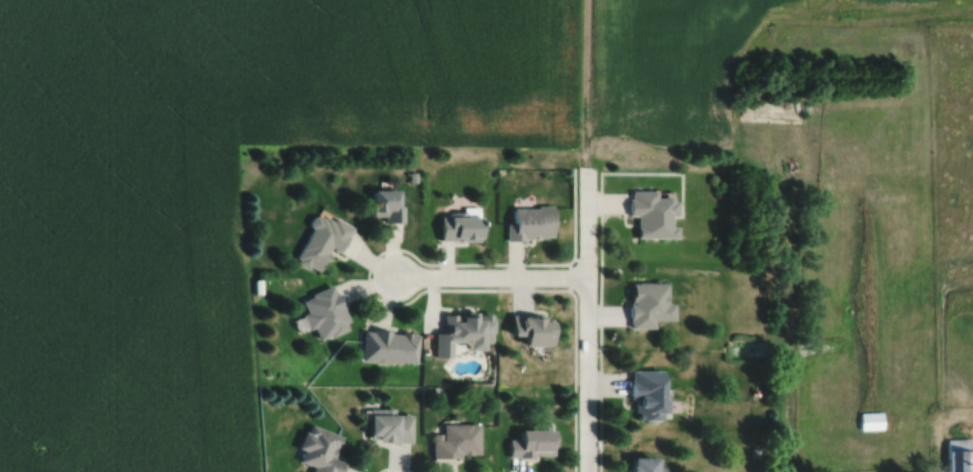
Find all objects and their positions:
building: (384, 207)
building: (650, 214)
building: (528, 224)
building: (456, 229)
building: (319, 244)
road: (488, 280)
building: (644, 306)
building: (321, 315)
road: (584, 322)
building: (529, 331)
building: (461, 334)
building: (387, 348)
building: (644, 396)
building: (869, 422)
building: (387, 430)
building: (454, 442)
building: (529, 445)
building: (317, 450)
building: (956, 456)
building: (637, 465)

